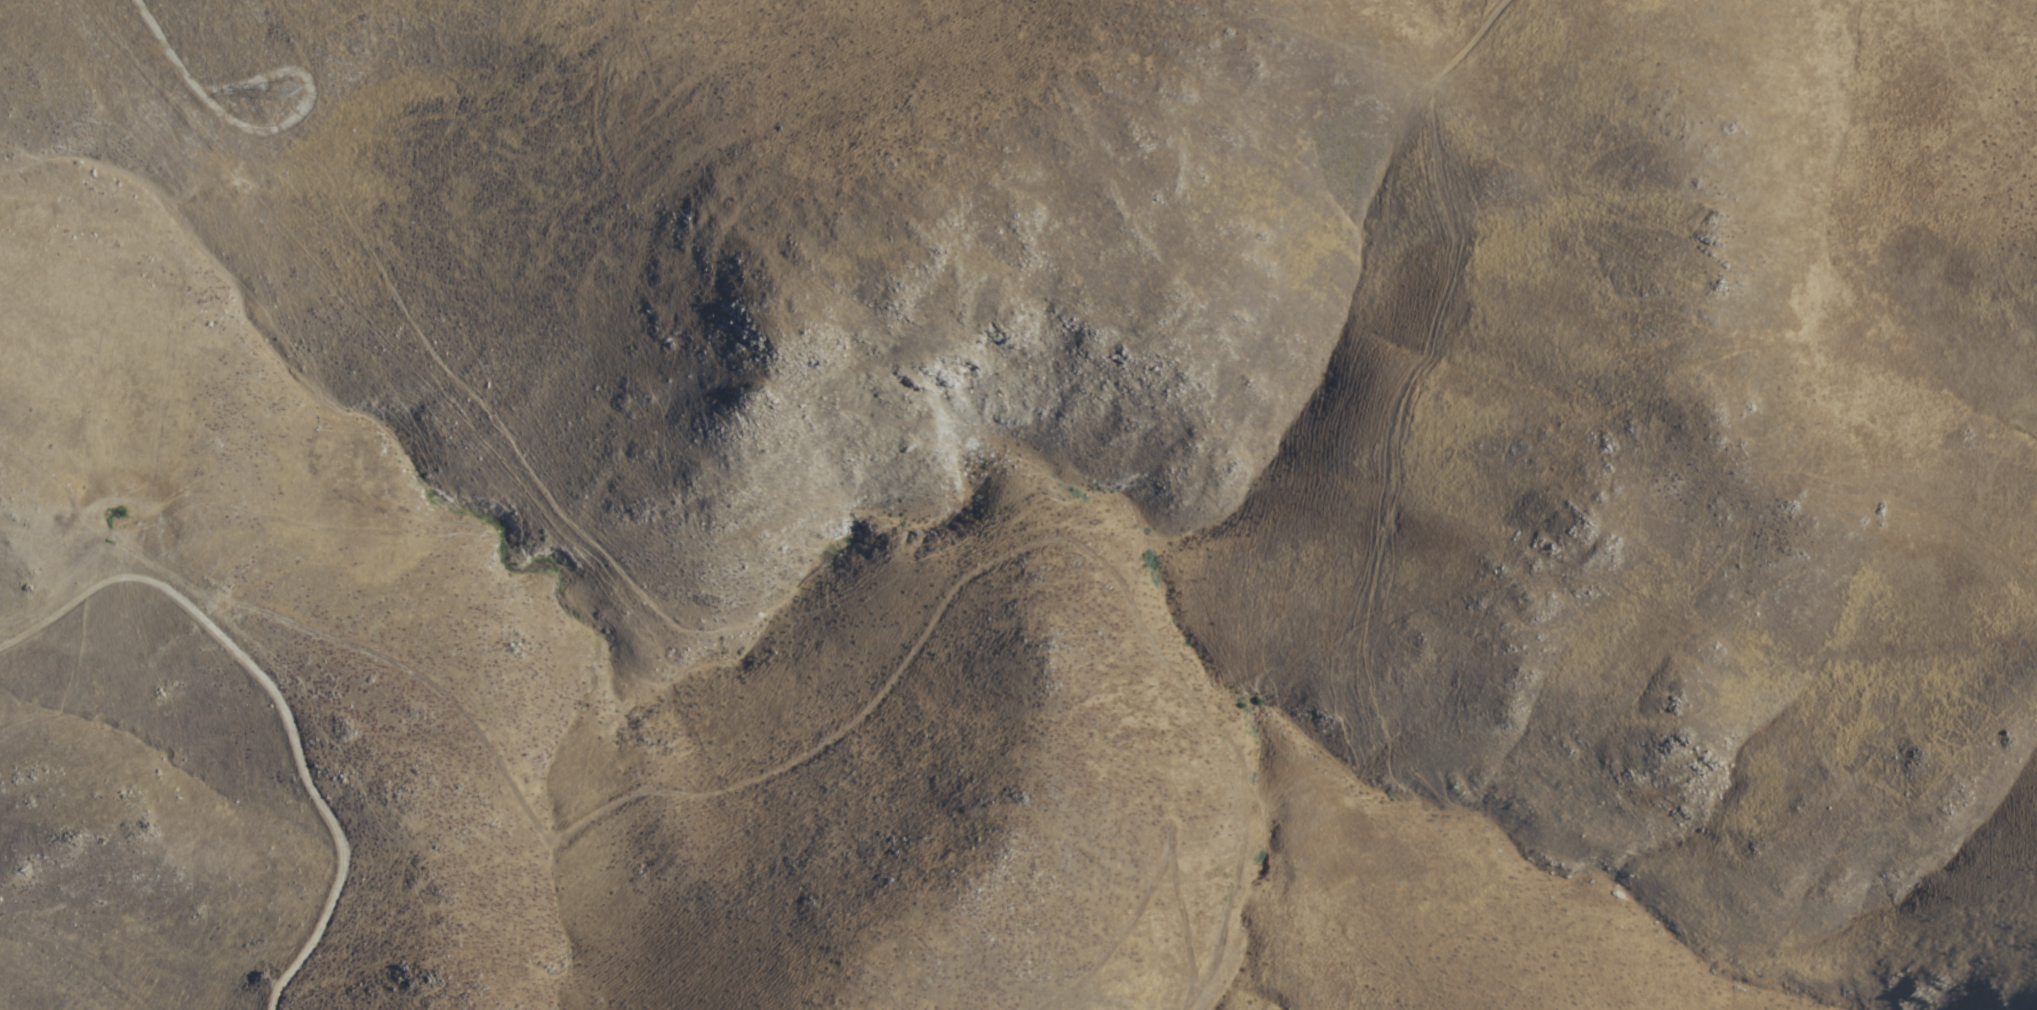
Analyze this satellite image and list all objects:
power tower: (289, 97)
road: (247, 708)

